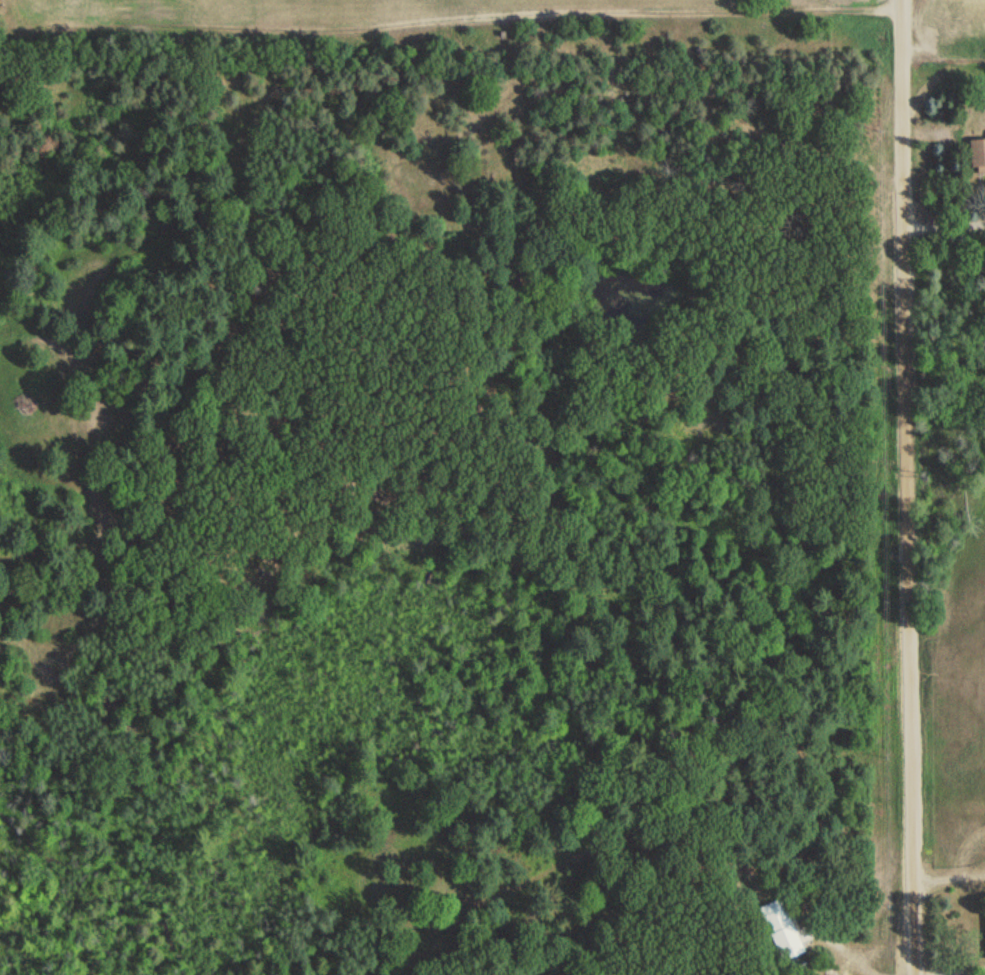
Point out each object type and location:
building: (977, 154)
road: (947, 225)
road: (913, 487)

